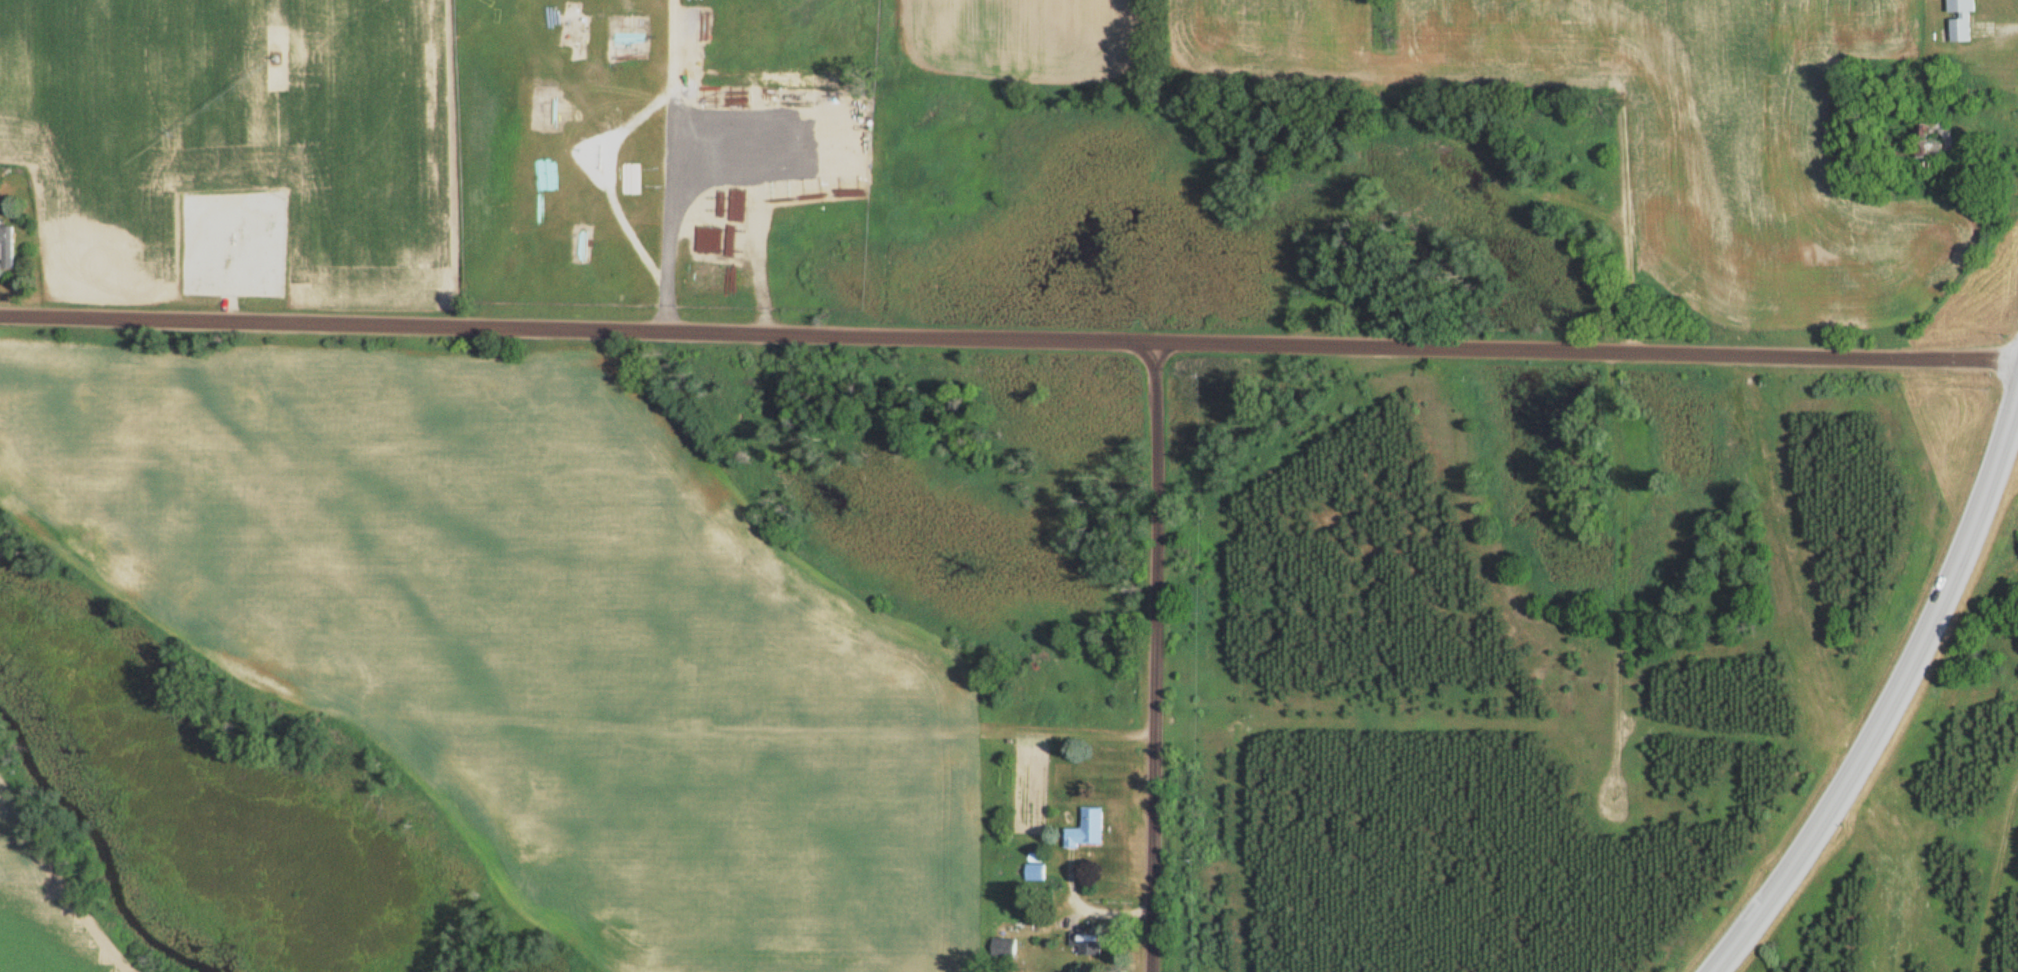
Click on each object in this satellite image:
building: (1962, 20)
road: (661, 165)
road: (598, 181)
building: (8, 249)
road: (1008, 336)
road: (1153, 655)
road: (1894, 700)
building: (1090, 830)
building: (1090, 944)
building: (1005, 948)

